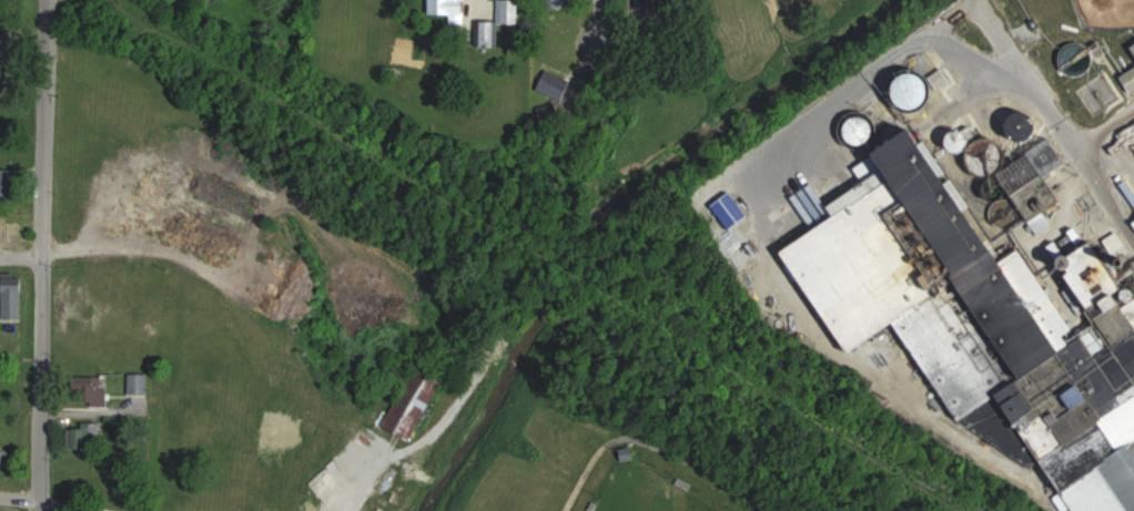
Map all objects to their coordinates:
building: (560, 1)
building: (651, 3)
road: (477, 6)
building: (449, 11)
road: (604, 11)
building: (503, 21)
road: (48, 24)
building: (1131, 80)
building: (920, 91)
road: (43, 99)
road: (1054, 116)
building: (1026, 127)
building: (861, 131)
building: (963, 144)
building: (1040, 181)
building: (731, 211)
building: (12, 232)
road: (21, 257)
building: (17, 286)
building: (986, 319)
road: (41, 329)
building: (140, 385)
building: (93, 391)
building: (415, 402)
building: (88, 437)
building: (3, 456)
road: (583, 469)
building: (84, 481)
road: (350, 492)
road: (49, 498)

